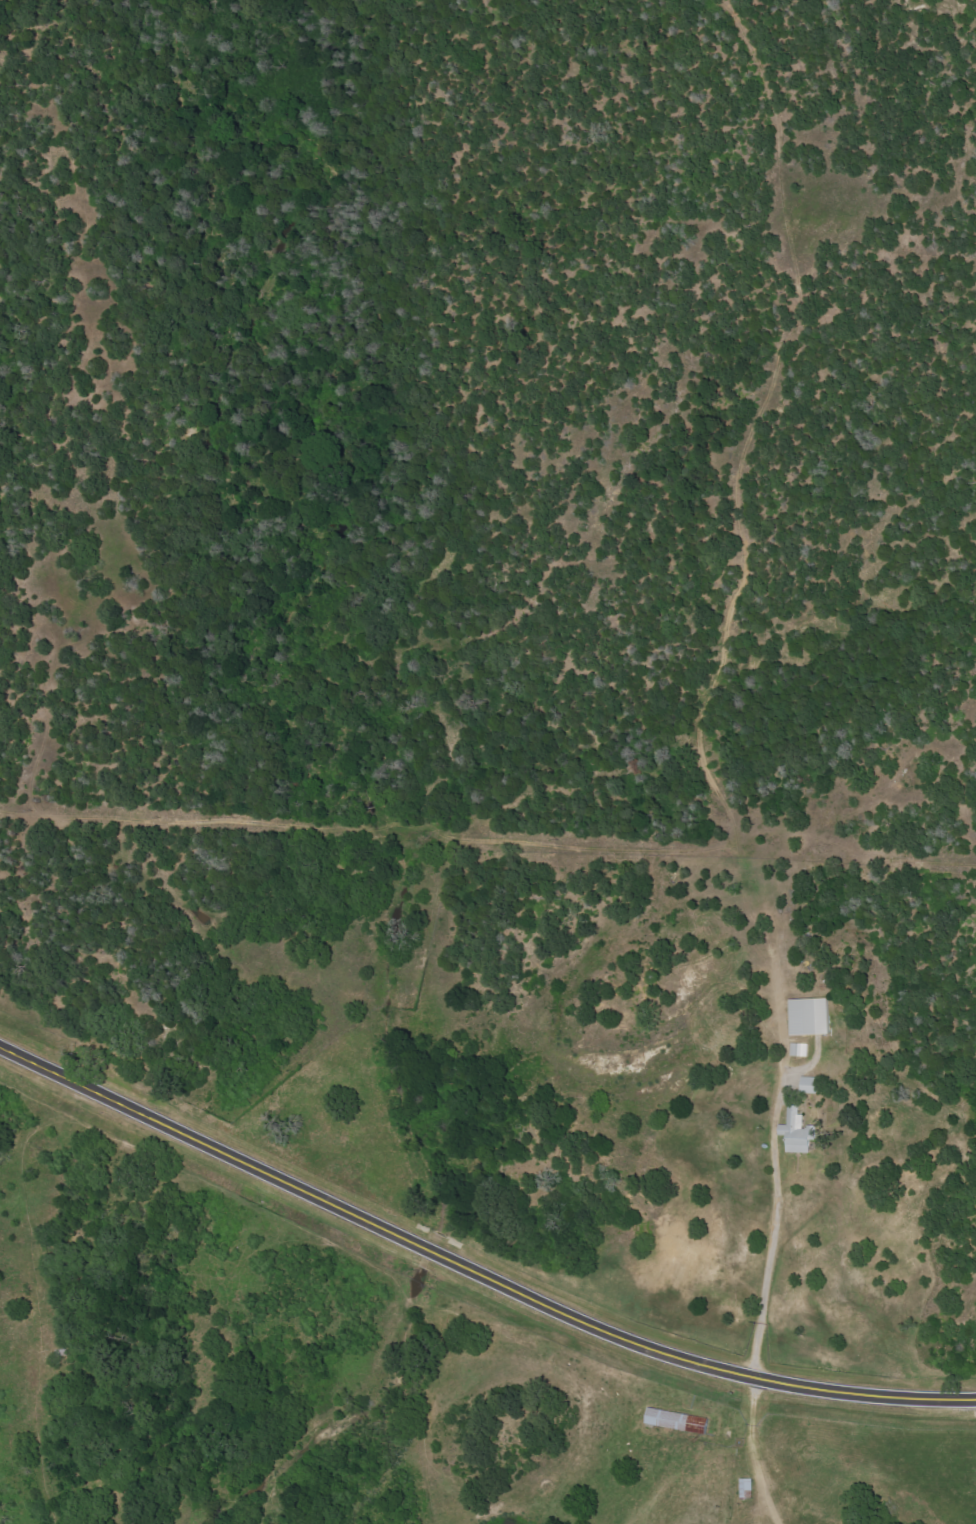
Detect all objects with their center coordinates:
road: (48, 488)
building: (808, 1017)
building: (800, 1049)
road: (748, 1071)
building: (812, 1085)
building: (795, 1133)
road: (474, 1264)
building: (675, 1421)

